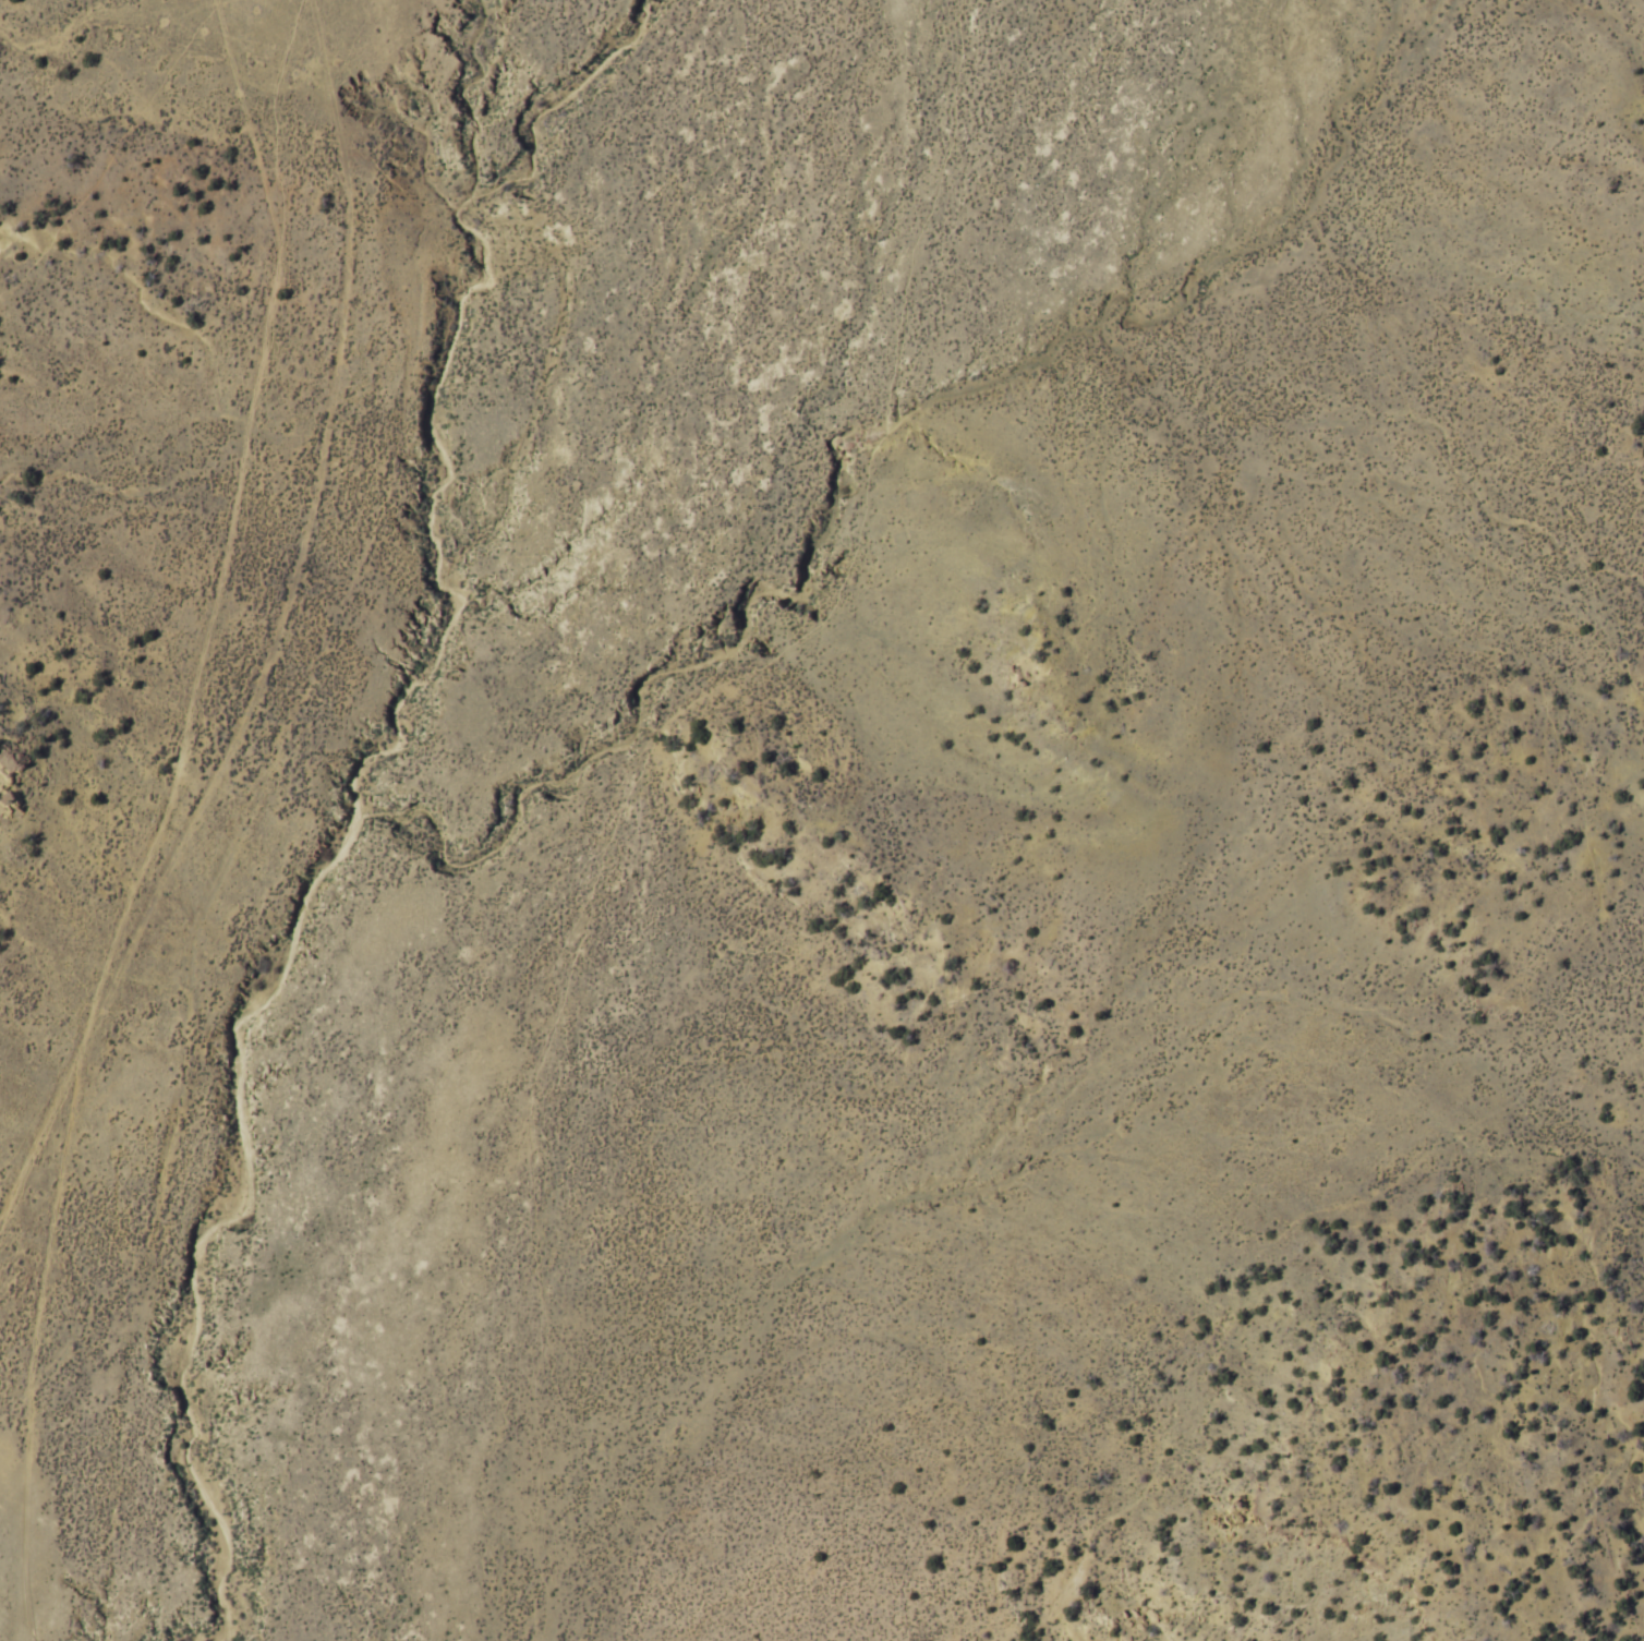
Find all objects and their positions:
road: (461, 59)
road: (291, 596)

